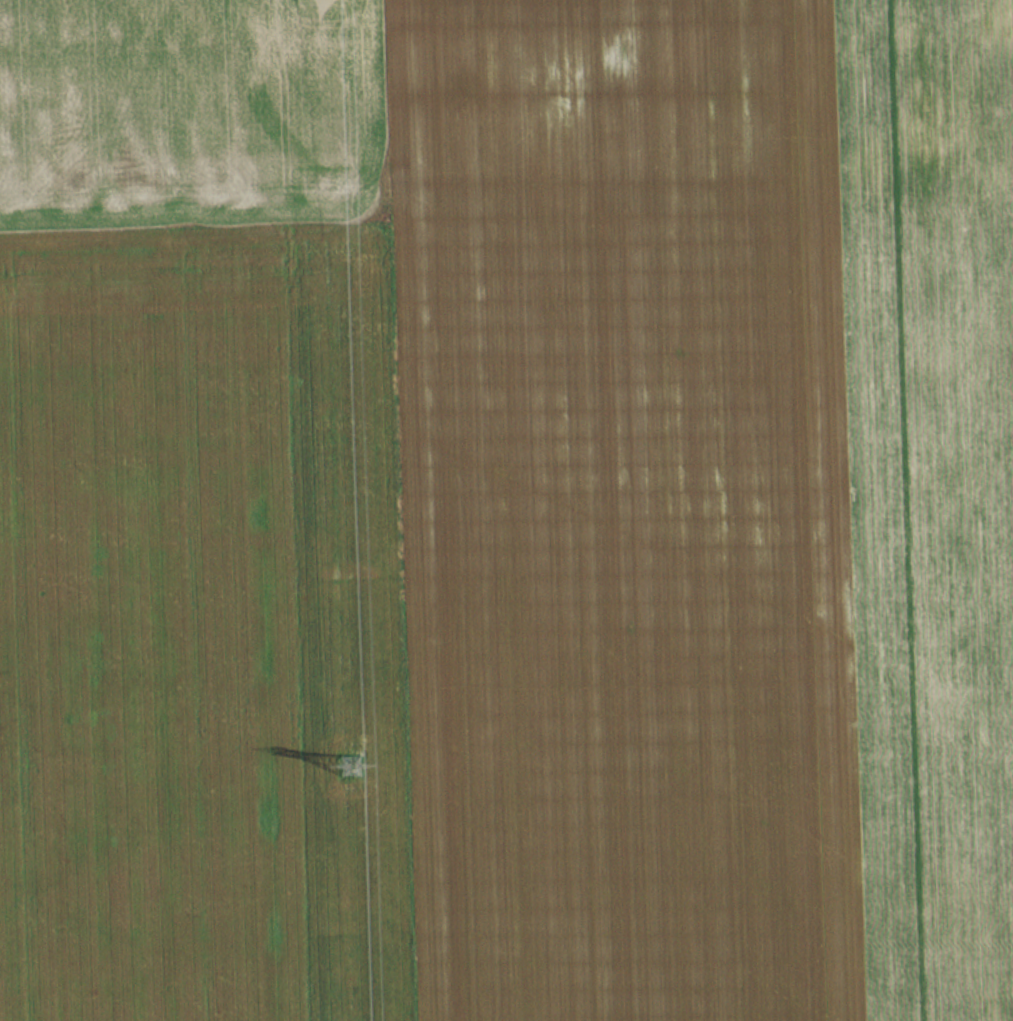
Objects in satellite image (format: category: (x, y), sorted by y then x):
crop: (187, 109)
crop: (704, 505)
crop: (201, 624)
power tower: (348, 767)

